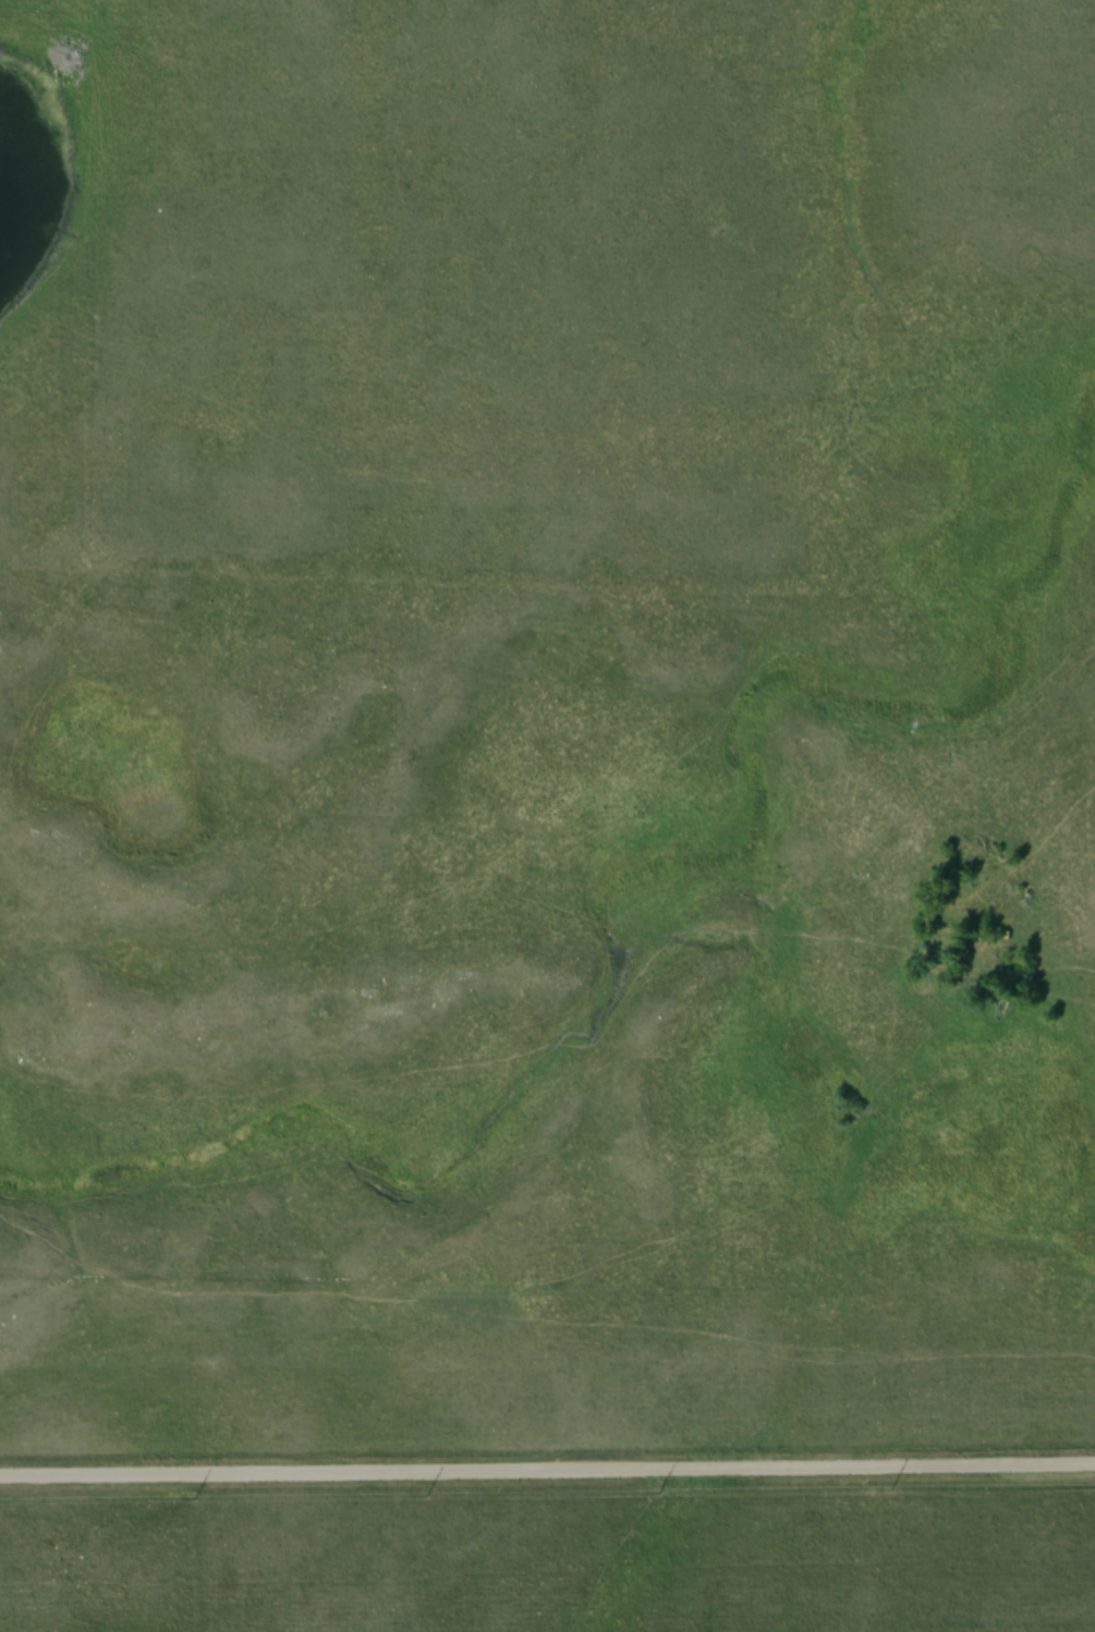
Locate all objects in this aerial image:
road: (547, 1476)

